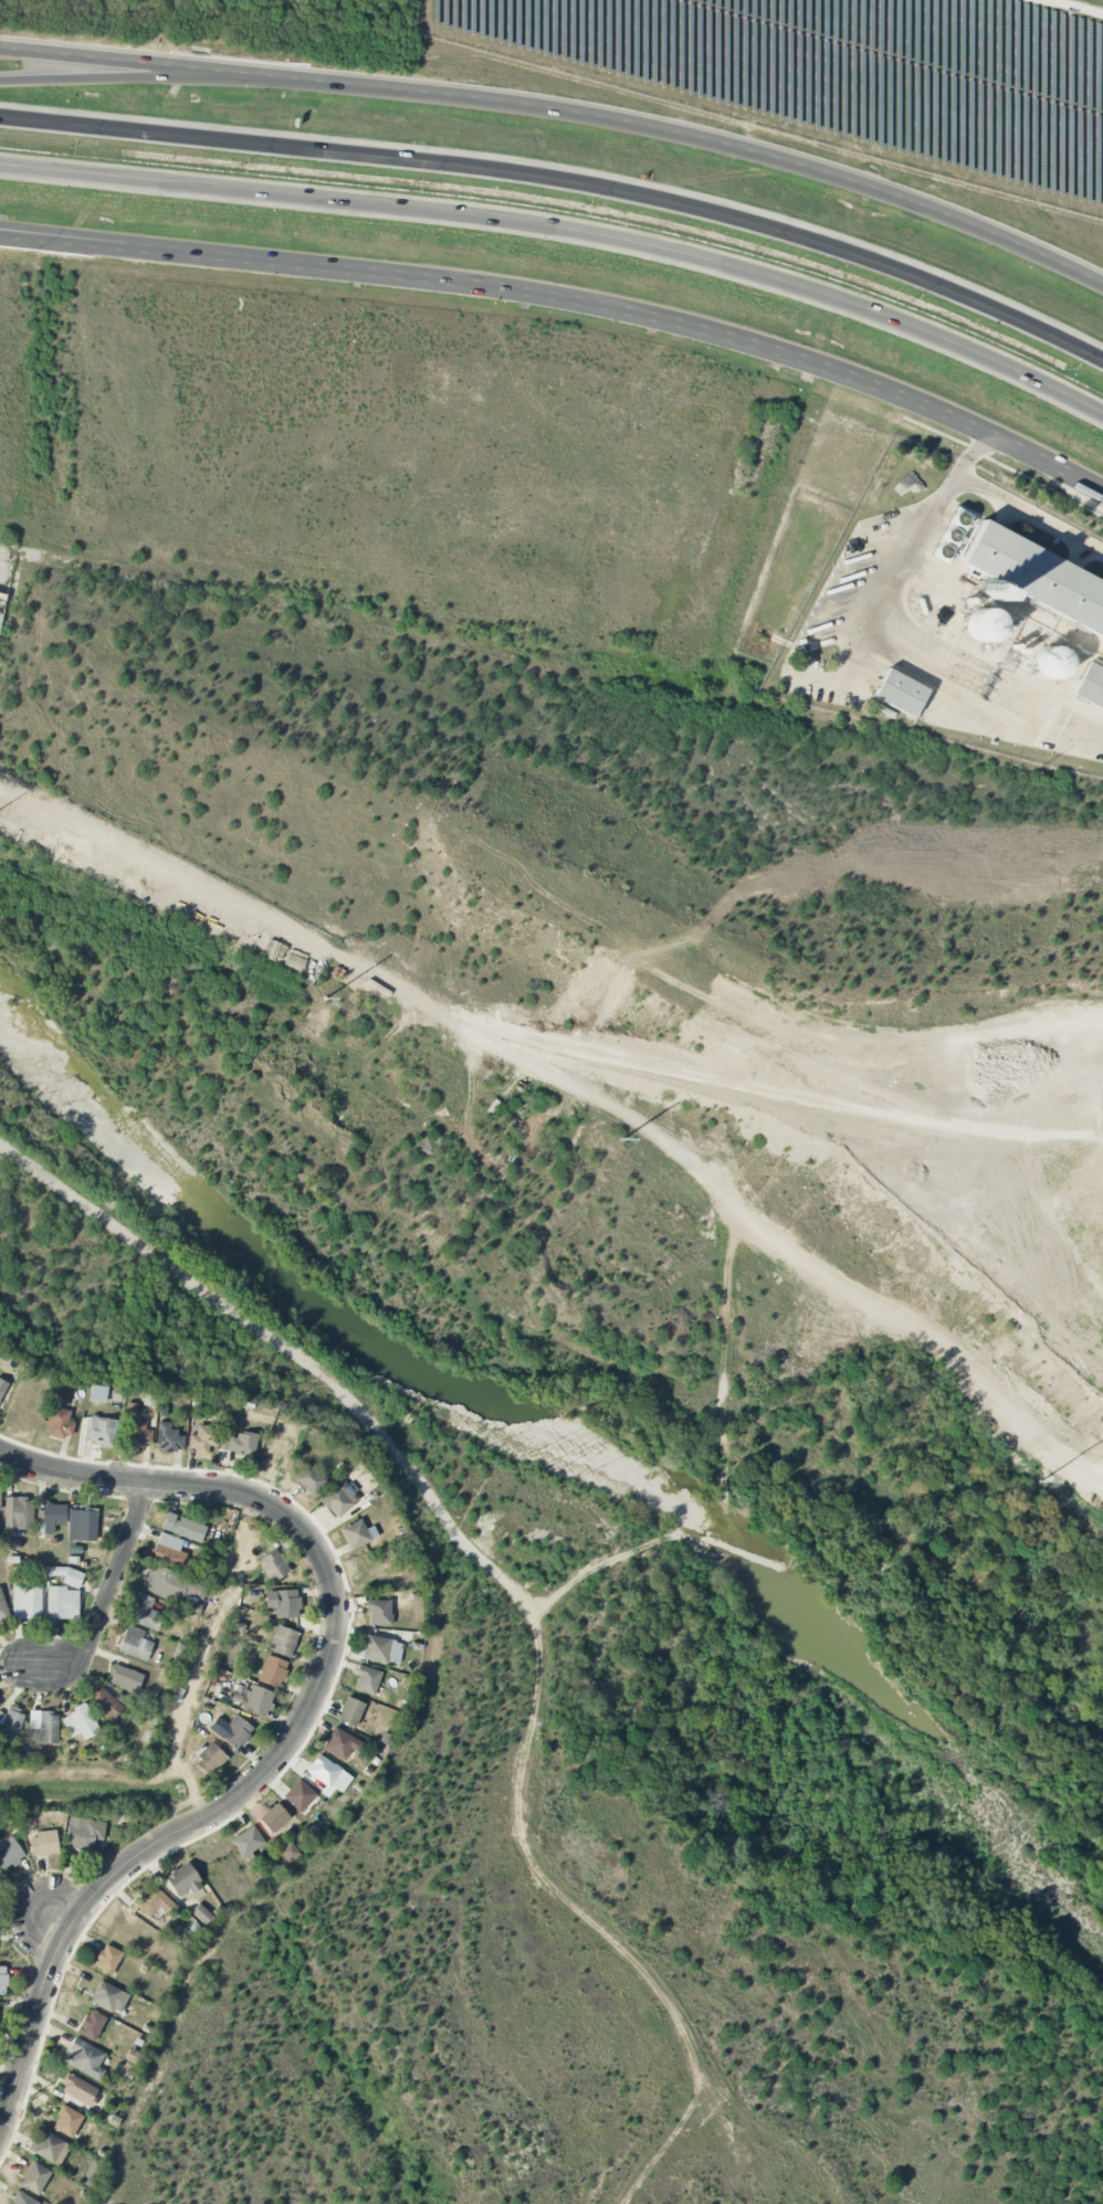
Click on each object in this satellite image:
road: (126, 74)
road: (564, 112)
road: (565, 178)
road: (566, 224)
road: (27, 234)
road: (567, 300)
road: (970, 456)
building: (955, 536)
building: (1034, 579)
road: (894, 593)
building: (2, 604)
building: (983, 625)
building: (1053, 663)
building: (1091, 686)
building: (900, 693)
road: (780, 878)
building: (198, 915)
power tower: (324, 996)
road: (526, 1035)
power tower: (622, 1138)
building: (2, 1386)
building: (97, 1393)
building: (60, 1423)
building: (137, 1430)
building: (102, 1431)
building: (168, 1438)
building: (202, 1440)
building: (237, 1443)
building: (309, 1479)
road: (124, 1480)
power tower: (1040, 1480)
building: (340, 1499)
building: (0, 1509)
building: (19, 1514)
building: (52, 1517)
building: (82, 1526)
building: (183, 1528)
building: (358, 1533)
building: (168, 1551)
building: (273, 1565)
building: (73, 1578)
building: (176, 1586)
road: (105, 1601)
building: (27, 1602)
building: (62, 1603)
building: (283, 1603)
building: (2, 1607)
building: (378, 1612)
building: (145, 1613)
building: (284, 1642)
building: (135, 1644)
building: (381, 1649)
building: (272, 1672)
building: (125, 1677)
building: (367, 1680)
building: (258, 1701)
building: (0, 1704)
building: (106, 1704)
building: (350, 1711)
building: (80, 1722)
building: (10, 1723)
building: (45, 1726)
building: (234, 1731)
building: (340, 1743)
building: (210, 1760)
building: (323, 1771)
building: (300, 1795)
road: (211, 1815)
building: (274, 1818)
building: (83, 1833)
building: (248, 1842)
building: (43, 1844)
building: (288, 1852)
building: (9, 1853)
building: (182, 1880)
building: (154, 1900)
building: (202, 1915)
building: (107, 1960)
building: (2, 1980)
building: (109, 1997)
building: (91, 2025)
building: (85, 2059)
building: (78, 2089)
building: (67, 2121)
building: (49, 2148)
building: (35, 2177)
building: (23, 2200)

